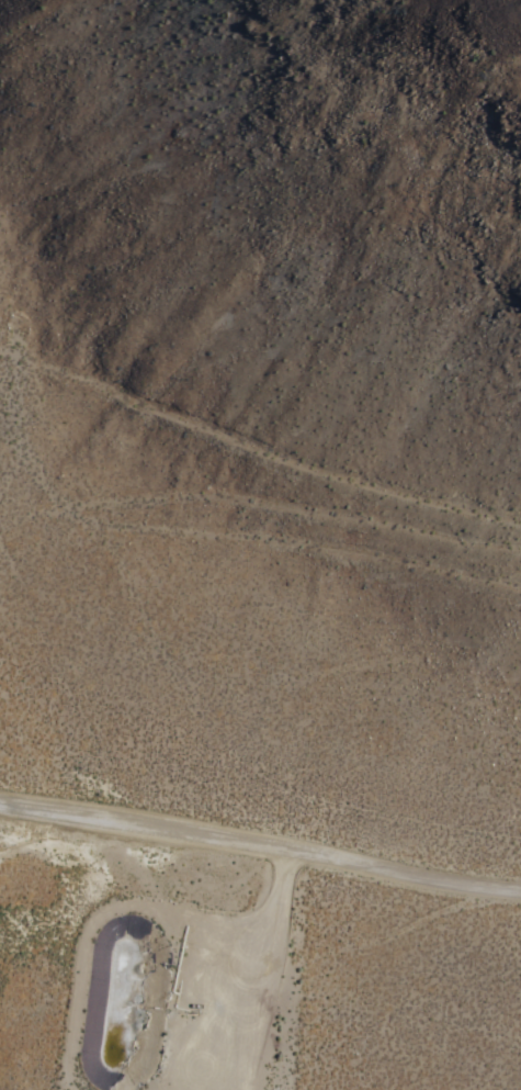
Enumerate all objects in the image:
road: (260, 845)

